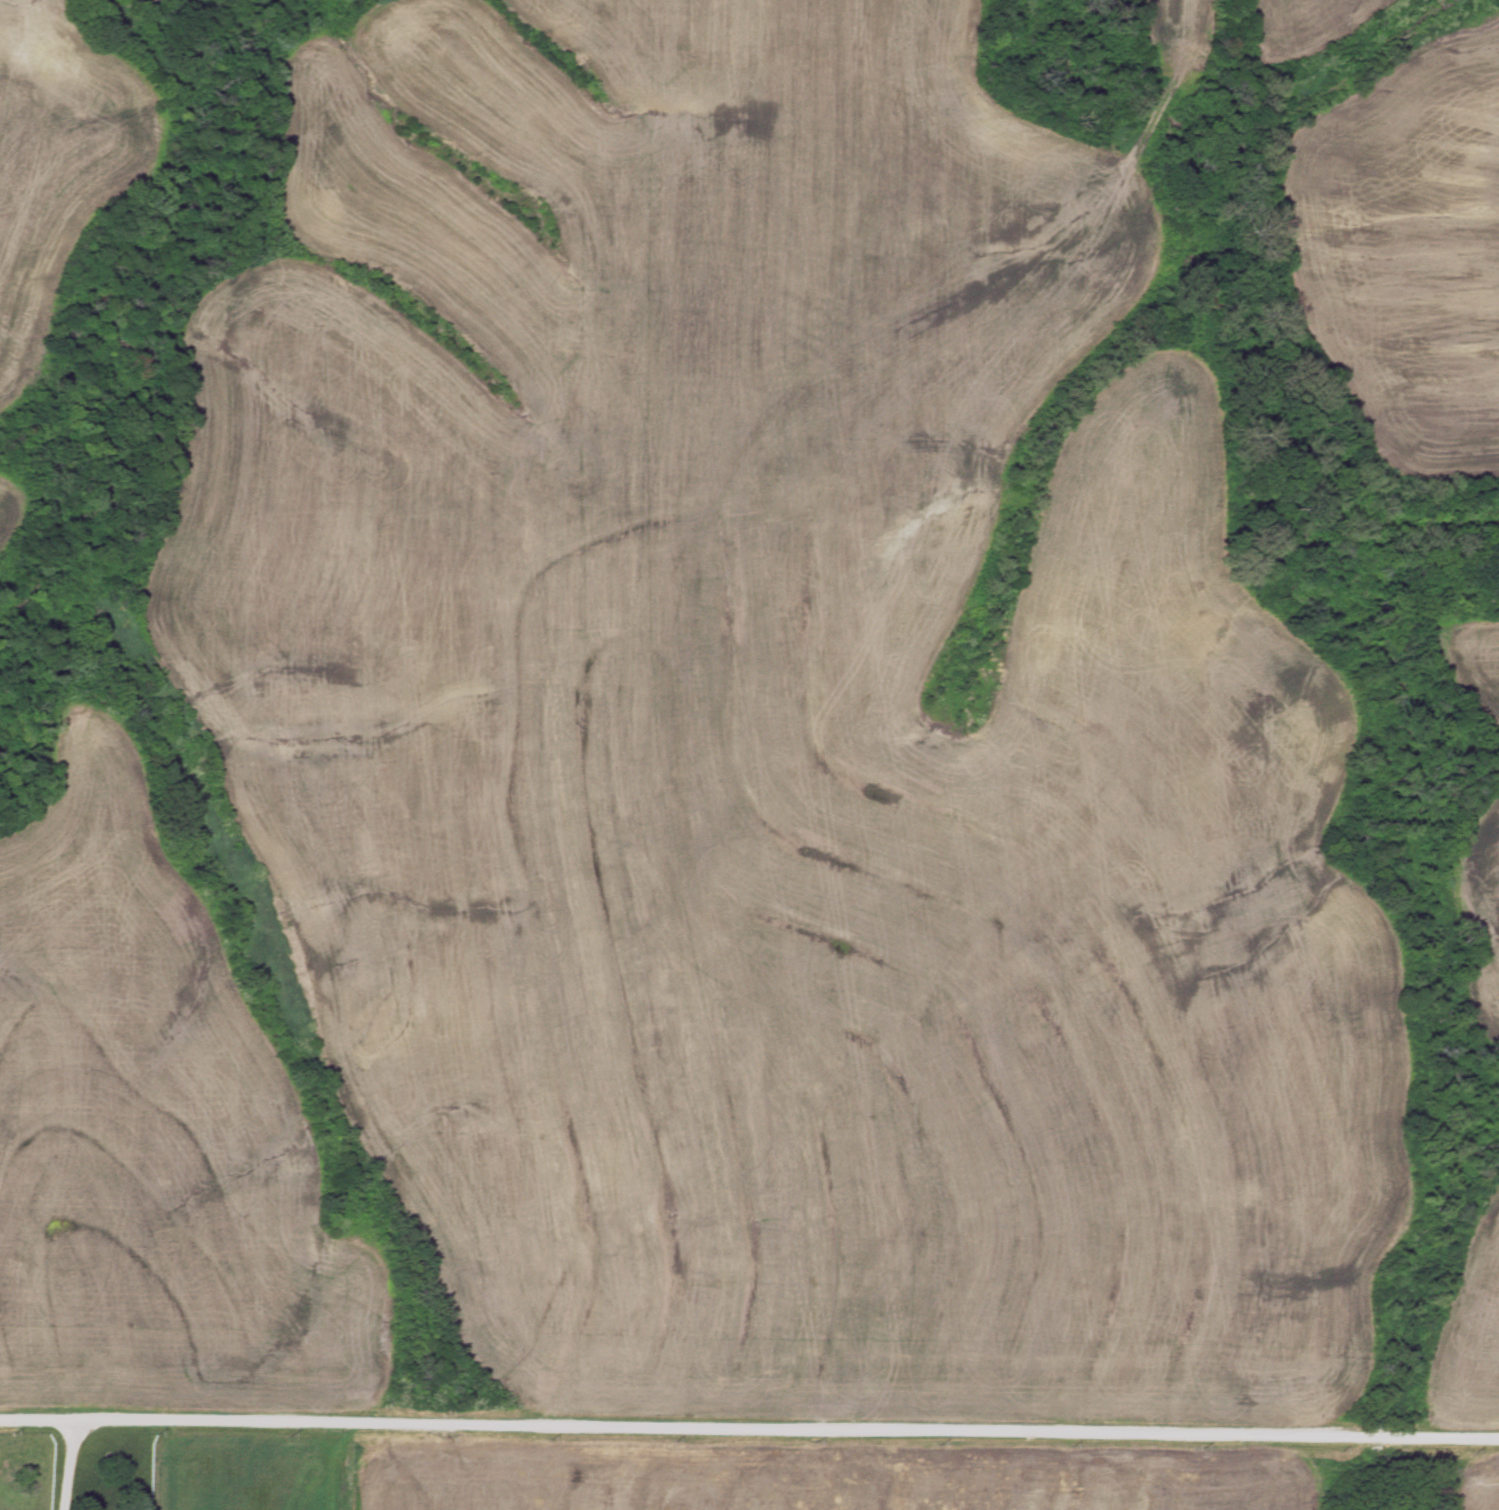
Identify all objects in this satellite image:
road: (749, 1431)
road: (67, 1466)

